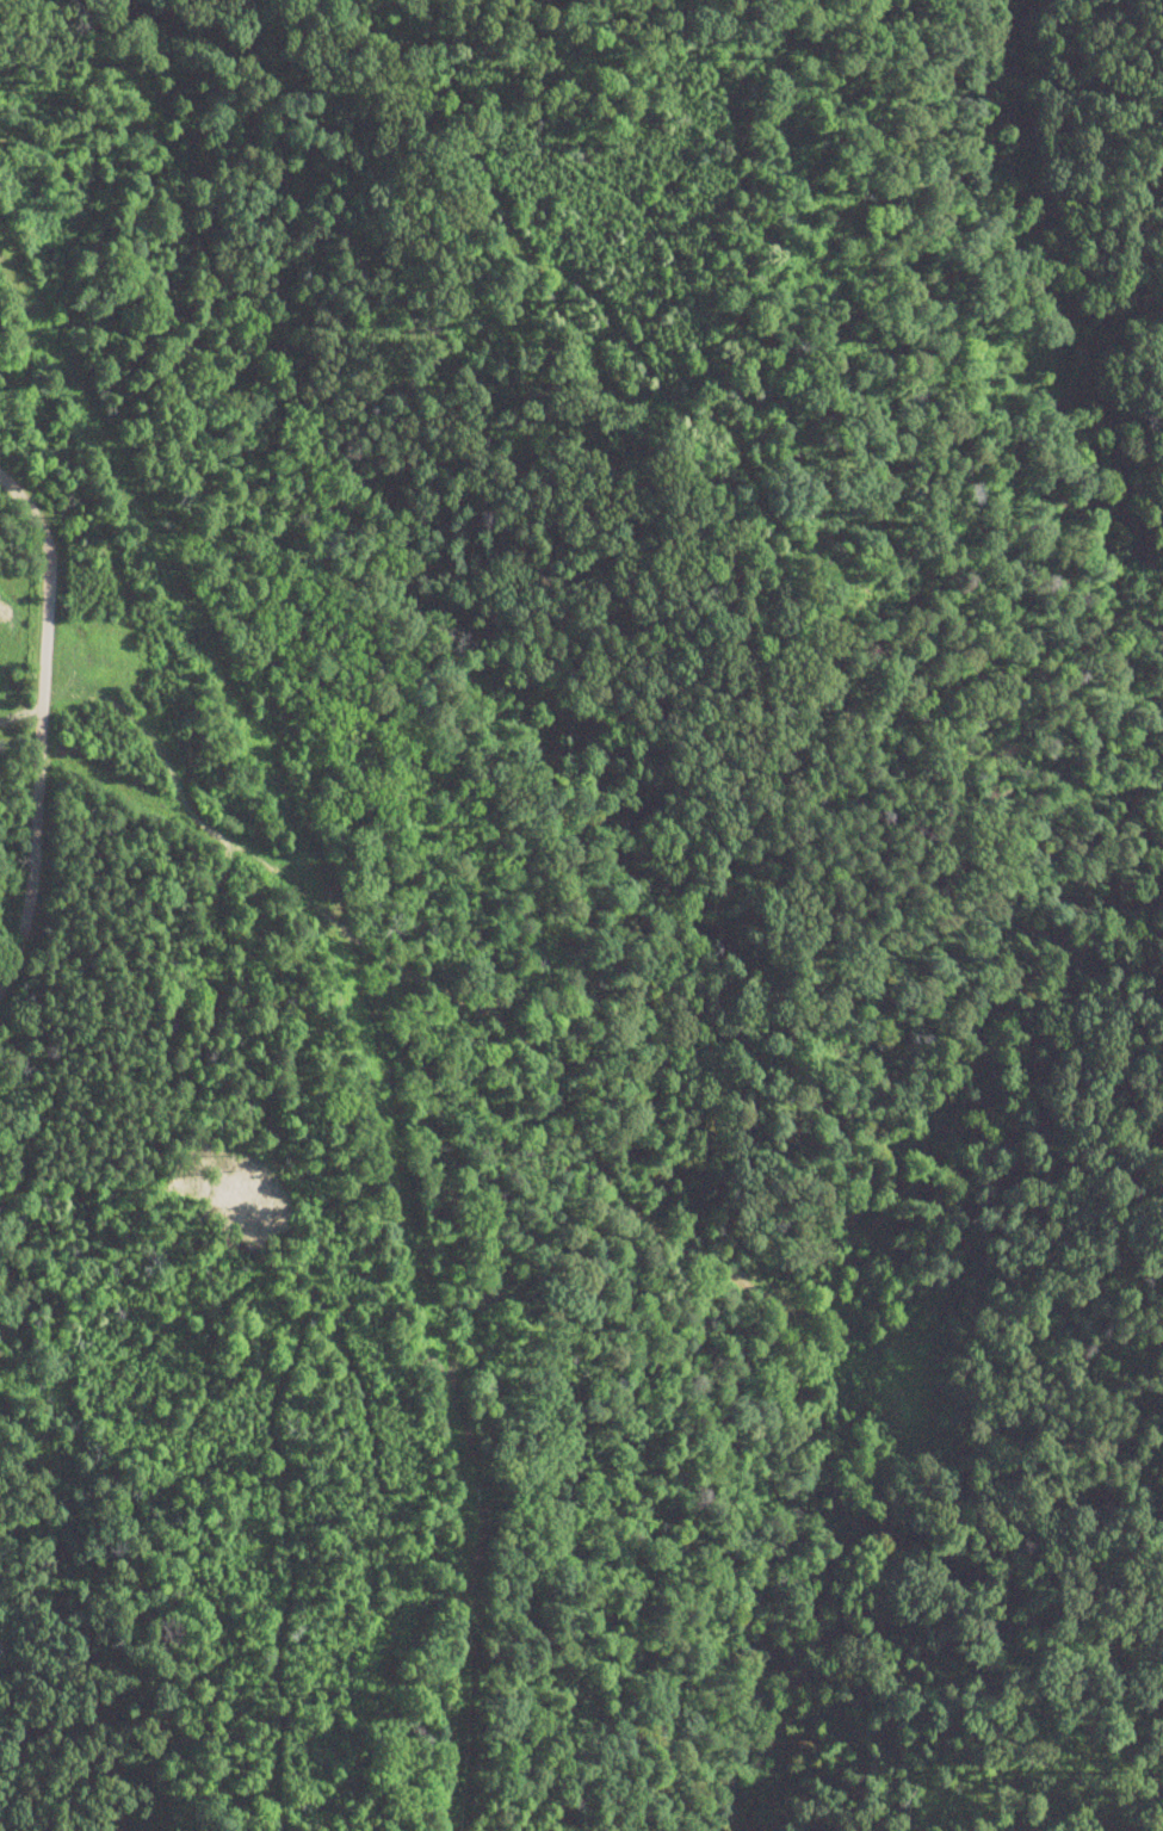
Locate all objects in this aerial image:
road: (32, 757)
road: (43, 1609)

